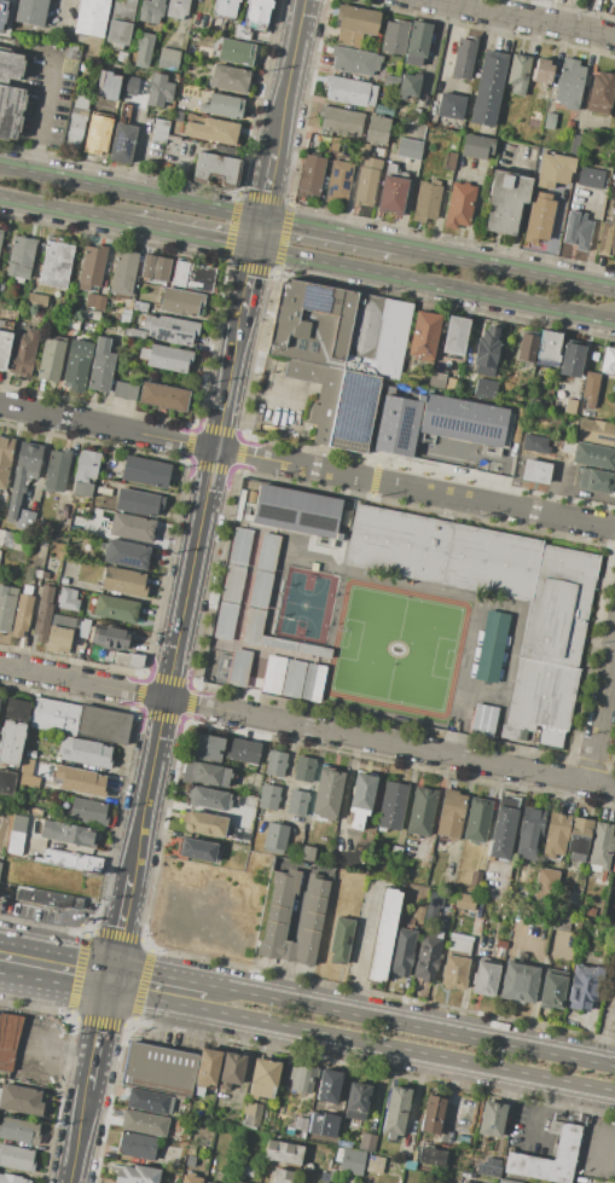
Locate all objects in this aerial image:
building: (611, 0)
building: (225, 7)
building: (1, 8)
building: (176, 8)
building: (30, 11)
building: (151, 11)
building: (257, 13)
road: (63, 15)
building: (91, 17)
road: (527, 17)
building: (120, 23)
building: (355, 23)
building: (242, 31)
building: (395, 37)
building: (417, 44)
building: (143, 50)
building: (234, 52)
road: (449, 52)
building: (122, 57)
road: (292, 57)
building: (464, 58)
building: (168, 59)
building: (354, 60)
building: (11, 65)
building: (85, 65)
building: (543, 71)
building: (518, 74)
building: (228, 79)
building: (390, 81)
building: (569, 83)
building: (130, 86)
building: (408, 86)
building: (488, 87)
building: (159, 91)
building: (350, 91)
building: (601, 92)
building: (222, 105)
building: (449, 105)
building: (385, 109)
building: (10, 110)
building: (124, 111)
road: (45, 114)
building: (179, 115)
building: (414, 115)
building: (76, 120)
building: (341, 121)
building: (549, 121)
building: (570, 124)
building: (377, 129)
building: (159, 131)
building: (211, 131)
building: (97, 134)
road: (278, 134)
building: (416, 135)
building: (453, 141)
building: (575, 143)
building: (122, 144)
building: (335, 144)
building: (476, 146)
building: (362, 149)
building: (408, 149)
building: (449, 161)
building: (216, 168)
building: (390, 168)
building: (553, 170)
building: (311, 175)
building: (591, 178)
building: (338, 181)
building: (366, 182)
road: (267, 185)
road: (129, 191)
building: (391, 195)
road: (523, 201)
building: (425, 202)
building: (505, 202)
road: (476, 203)
building: (459, 204)
road: (65, 210)
building: (539, 216)
traffic signals: (261, 218)
building: (578, 230)
building: (35, 231)
road: (329, 231)
road: (555, 231)
road: (257, 233)
building: (1, 236)
road: (193, 236)
building: (607, 238)
traffic signals: (255, 249)
building: (21, 259)
building: (56, 265)
road: (506, 266)
building: (92, 267)
building: (156, 267)
building: (123, 269)
building: (193, 277)
road: (248, 280)
road: (435, 284)
building: (116, 297)
building: (36, 301)
building: (95, 301)
building: (181, 302)
building: (140, 306)
building: (124, 317)
building: (288, 320)
building: (71, 323)
building: (1, 324)
building: (170, 329)
building: (378, 334)
building: (134, 335)
building: (423, 335)
building: (454, 336)
road: (236, 342)
building: (298, 344)
building: (550, 346)
building: (312, 347)
building: (527, 347)
building: (4, 348)
building: (486, 352)
building: (24, 353)
building: (166, 358)
building: (51, 359)
building: (572, 359)
building: (608, 361)
building: (77, 366)
building: (101, 366)
building: (436, 379)
building: (486, 387)
building: (590, 389)
building: (124, 390)
building: (319, 394)
building: (163, 396)
road: (304, 399)
building: (570, 406)
building: (355, 412)
building: (462, 419)
building: (396, 424)
building: (596, 433)
road: (538, 450)
building: (593, 456)
building: (5, 459)
road: (307, 466)
building: (56, 470)
building: (536, 470)
building: (86, 472)
building: (145, 472)
building: (23, 475)
building: (596, 481)
building: (564, 485)
building: (104, 491)
building: (138, 503)
building: (296, 511)
building: (25, 518)
building: (132, 527)
building: (259, 530)
building: (7, 539)
building: (126, 555)
building: (31, 573)
building: (43, 575)
building: (63, 581)
building: (123, 581)
building: (231, 582)
building: (250, 587)
building: (68, 599)
building: (6, 607)
building: (116, 608)
building: (22, 611)
building: (42, 614)
road: (180, 622)
building: (251, 622)
building: (80, 634)
building: (552, 634)
building: (58, 639)
building: (108, 642)
building: (489, 645)
building: (127, 660)
building: (238, 667)
building: (286, 672)
building: (17, 708)
building: (81, 720)
building: (482, 720)
road: (602, 721)
road: (307, 726)
building: (11, 742)
building: (207, 747)
building: (244, 752)
building: (85, 753)
building: (30, 754)
building: (274, 762)
building: (304, 769)
building: (204, 773)
building: (28, 775)
building: (80, 779)
building: (7, 783)
building: (326, 794)
road: (342, 796)
building: (208, 798)
building: (268, 798)
building: (361, 798)
building: (297, 802)
building: (391, 806)
road: (196, 808)
building: (420, 811)
building: (88, 812)
road: (433, 812)
building: (451, 813)
building: (477, 819)
building: (204, 823)
road: (512, 831)
building: (529, 833)
building: (66, 834)
building: (504, 834)
building: (556, 835)
building: (275, 836)
building: (579, 837)
building: (14, 842)
building: (602, 845)
building: (198, 849)
building: (308, 853)
building: (395, 854)
building: (340, 859)
building: (70, 860)
building: (613, 864)
building: (475, 877)
building: (495, 877)
building: (545, 883)
building: (45, 898)
building: (465, 901)
road: (296, 903)
building: (431, 910)
building: (591, 911)
building: (277, 917)
road: (120, 918)
building: (543, 918)
building: (562, 922)
building: (383, 935)
building: (341, 939)
building: (458, 944)
road: (364, 946)
road: (56, 947)
building: (500, 947)
road: (286, 951)
building: (401, 951)
building: (427, 958)
traffic signals: (111, 963)
building: (454, 969)
road: (468, 972)
road: (6, 975)
road: (172, 975)
road: (6, 976)
road: (108, 978)
building: (486, 978)
road: (280, 979)
building: (520, 982)
road: (58, 985)
building: (582, 987)
building: (552, 988)
traffic signals: (105, 993)
road: (424, 1025)
road: (8, 1034)
road: (95, 1037)
road: (585, 1037)
building: (8, 1039)
road: (360, 1043)
road: (54, 1045)
road: (245, 1065)
building: (207, 1068)
building: (159, 1069)
building: (231, 1071)
building: (262, 1075)
building: (302, 1078)
building: (326, 1095)
building: (19, 1100)
building: (146, 1101)
building: (356, 1101)
road: (449, 1102)
building: (394, 1110)
building: (250, 1114)
building: (431, 1114)
road: (536, 1115)
building: (491, 1119)
building: (144, 1123)
building: (321, 1125)
building: (19, 1131)
road: (76, 1132)
building: (184, 1139)
building: (366, 1142)
building: (343, 1143)
building: (137, 1146)
building: (283, 1152)
building: (431, 1156)
building: (517, 1156)
building: (16, 1158)
building: (350, 1160)
building: (376, 1165)
building: (246, 1171)
building: (487, 1171)
building: (135, 1173)
building: (283, 1175)
building: (332, 1176)
building: (12, 1178)
building: (190, 1178)
building: (205, 1182)
building: (208, 1182)
building: (233, 1182)
building: (463, 1182)
building: (506, 1182)

